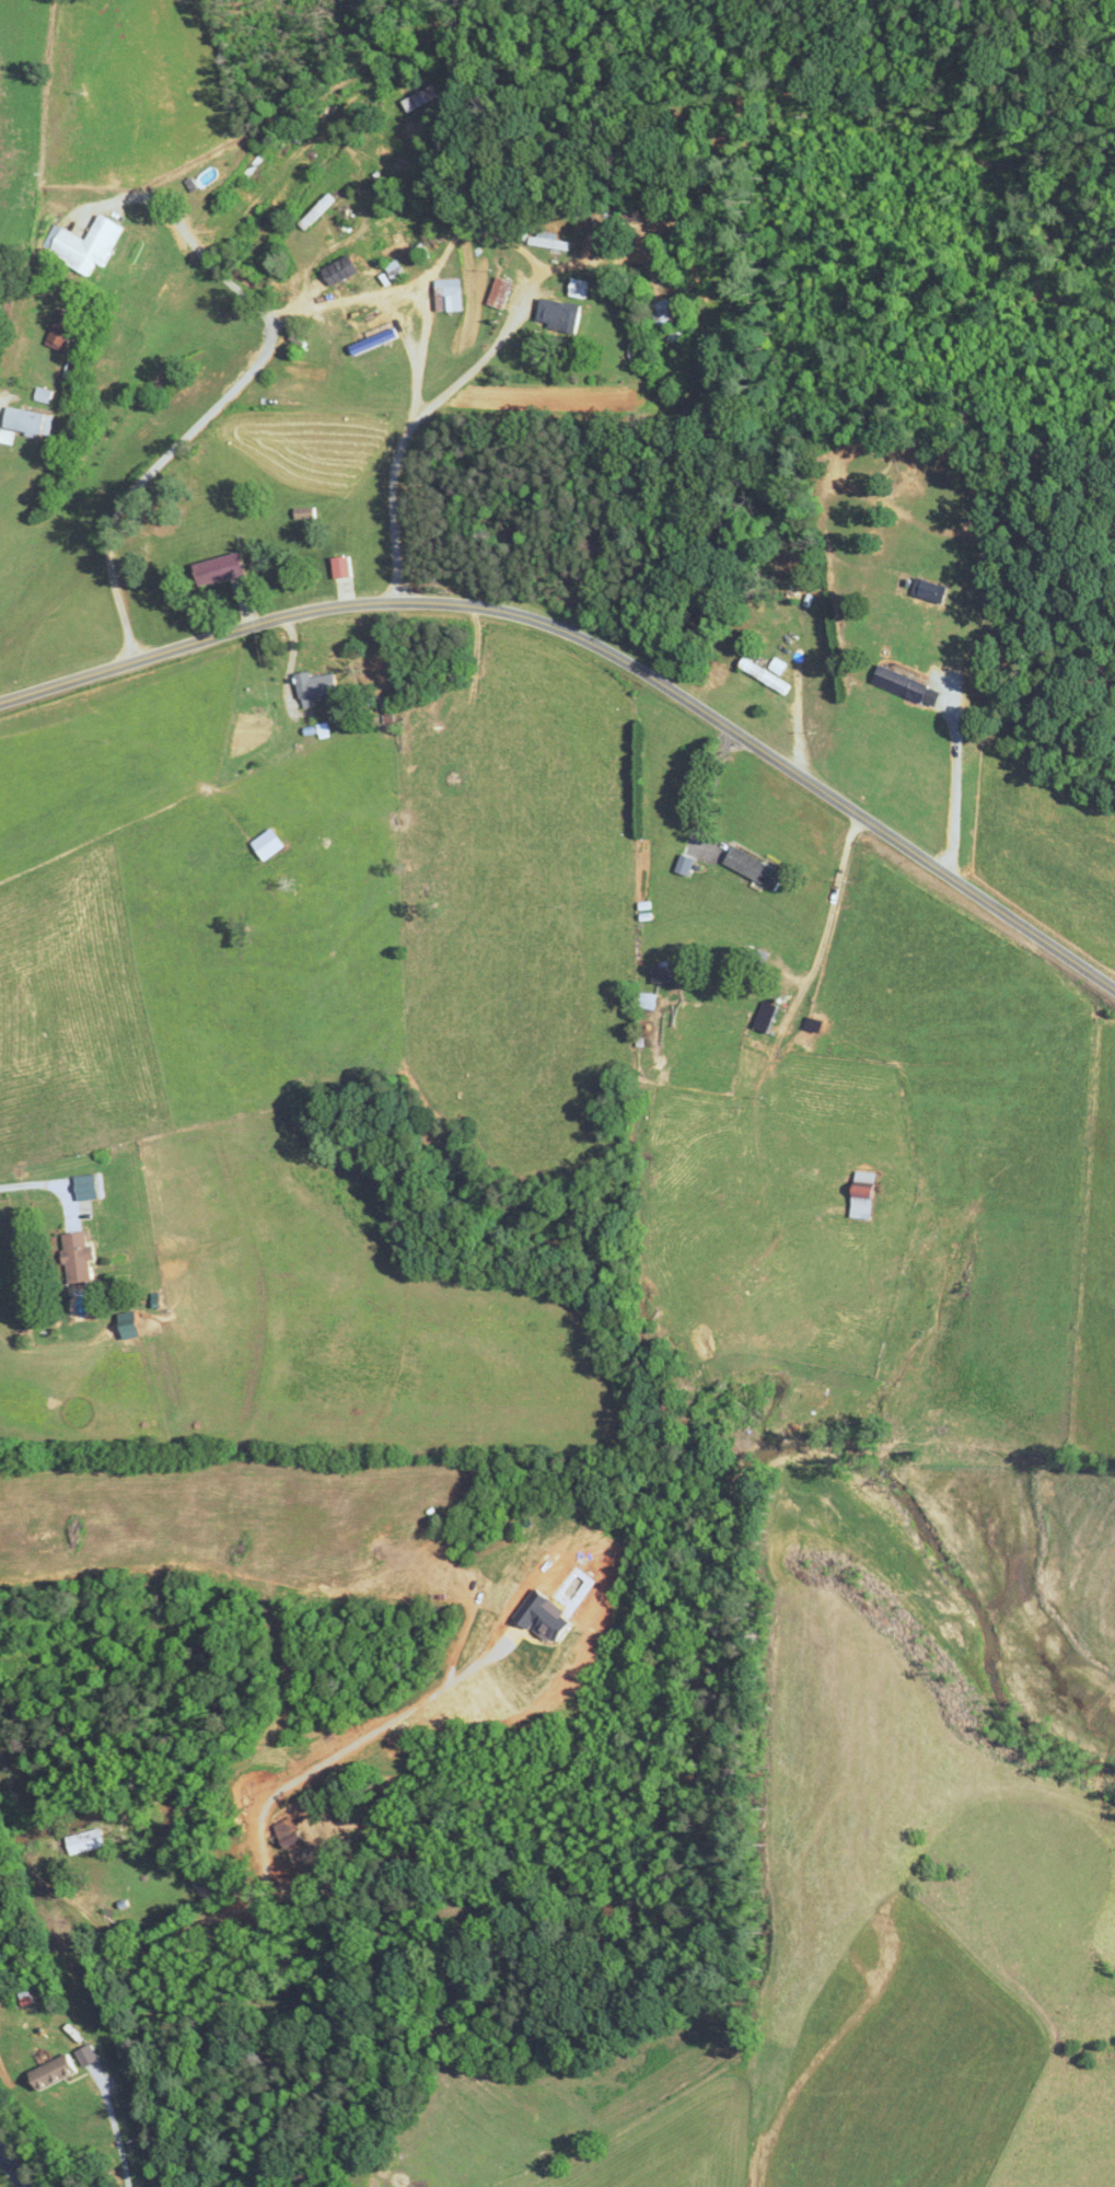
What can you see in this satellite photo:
building: (426, 97)
building: (317, 210)
building: (550, 241)
building: (89, 244)
building: (615, 246)
building: (583, 288)
building: (502, 292)
building: (450, 294)
building: (671, 314)
building: (562, 315)
building: (67, 328)
road: (419, 347)
road: (256, 363)
building: (79, 368)
road: (456, 383)
building: (48, 395)
road: (2, 398)
building: (28, 424)
building: (305, 513)
building: (346, 567)
building: (224, 569)
building: (930, 590)
road: (597, 646)
building: (764, 675)
building: (903, 683)
building: (316, 686)
road: (953, 784)
building: (755, 868)
building: (718, 967)
building: (669, 975)
building: (648, 1000)
building: (767, 1017)
road: (778, 1037)
road: (51, 1185)
building: (868, 1195)
building: (80, 1257)
building: (135, 1323)
building: (89, 1841)
road: (259, 1874)
road: (116, 2129)
road: (11, 2169)

